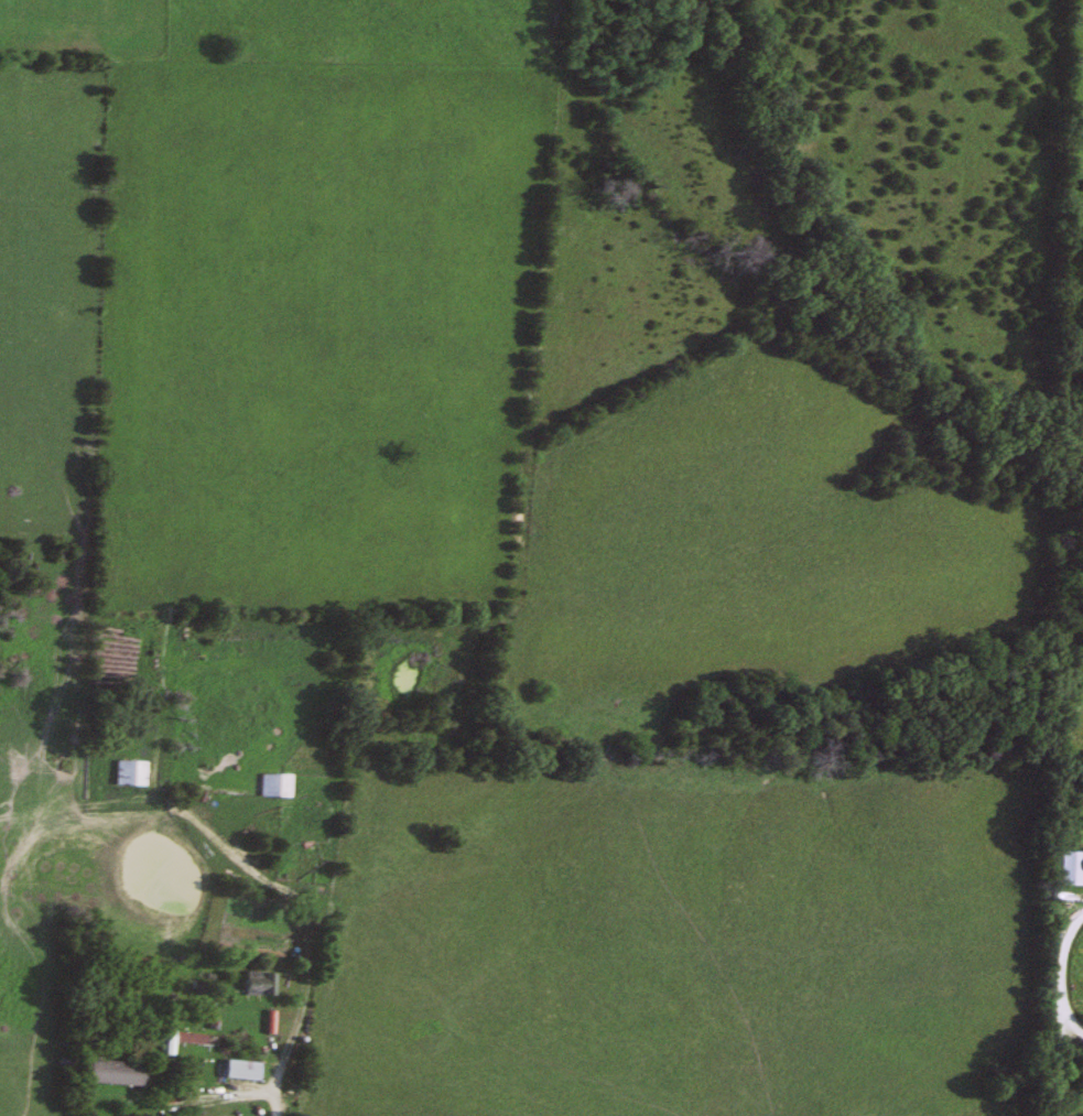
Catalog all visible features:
road: (161, 743)
building: (124, 772)
building: (271, 785)
road: (243, 858)
building: (1064, 867)
road: (1057, 972)
building: (257, 984)
building: (239, 1070)
road: (1063, 1070)
building: (111, 1072)
road: (202, 1097)

